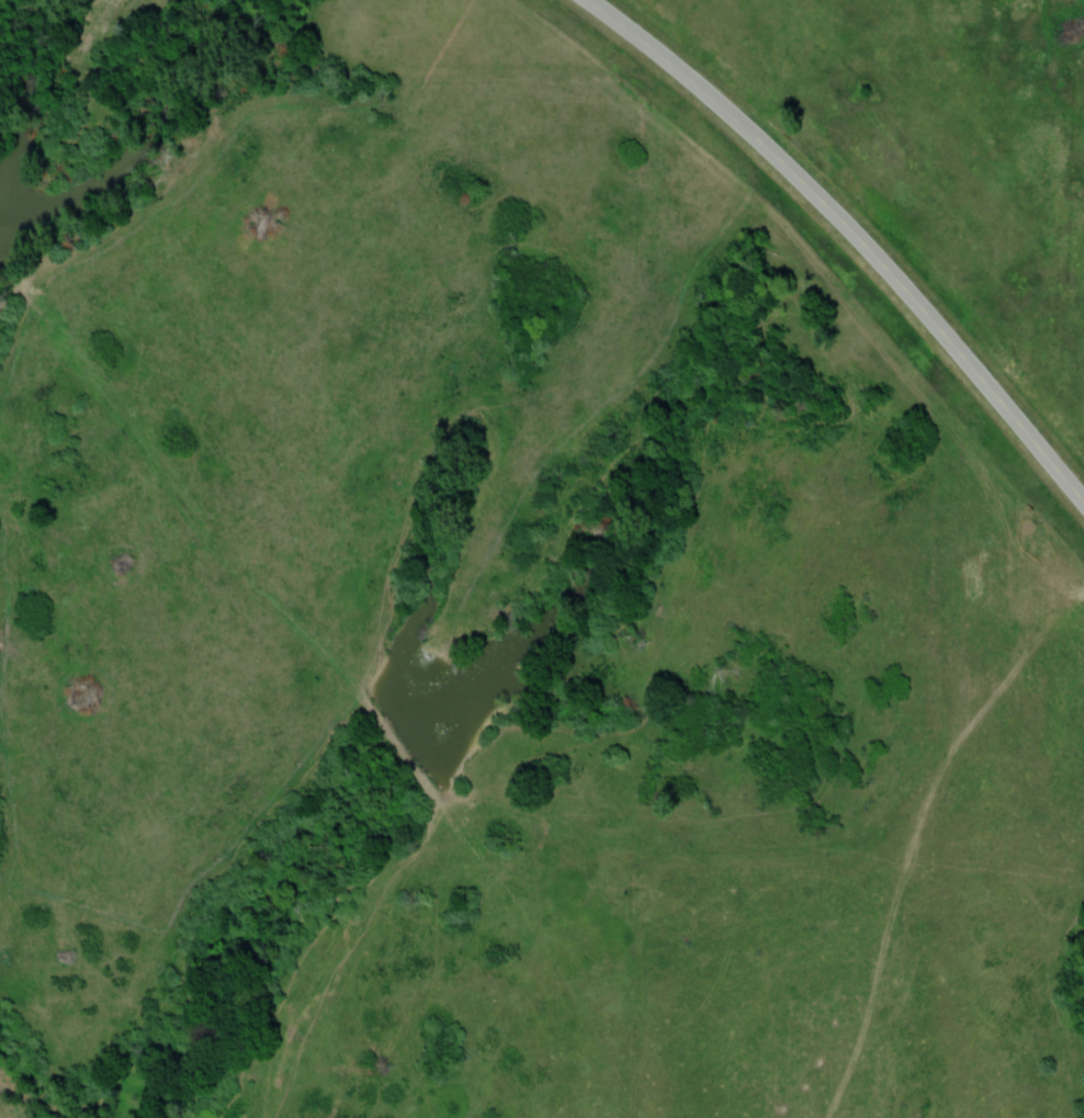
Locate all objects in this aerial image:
road: (852, 230)

